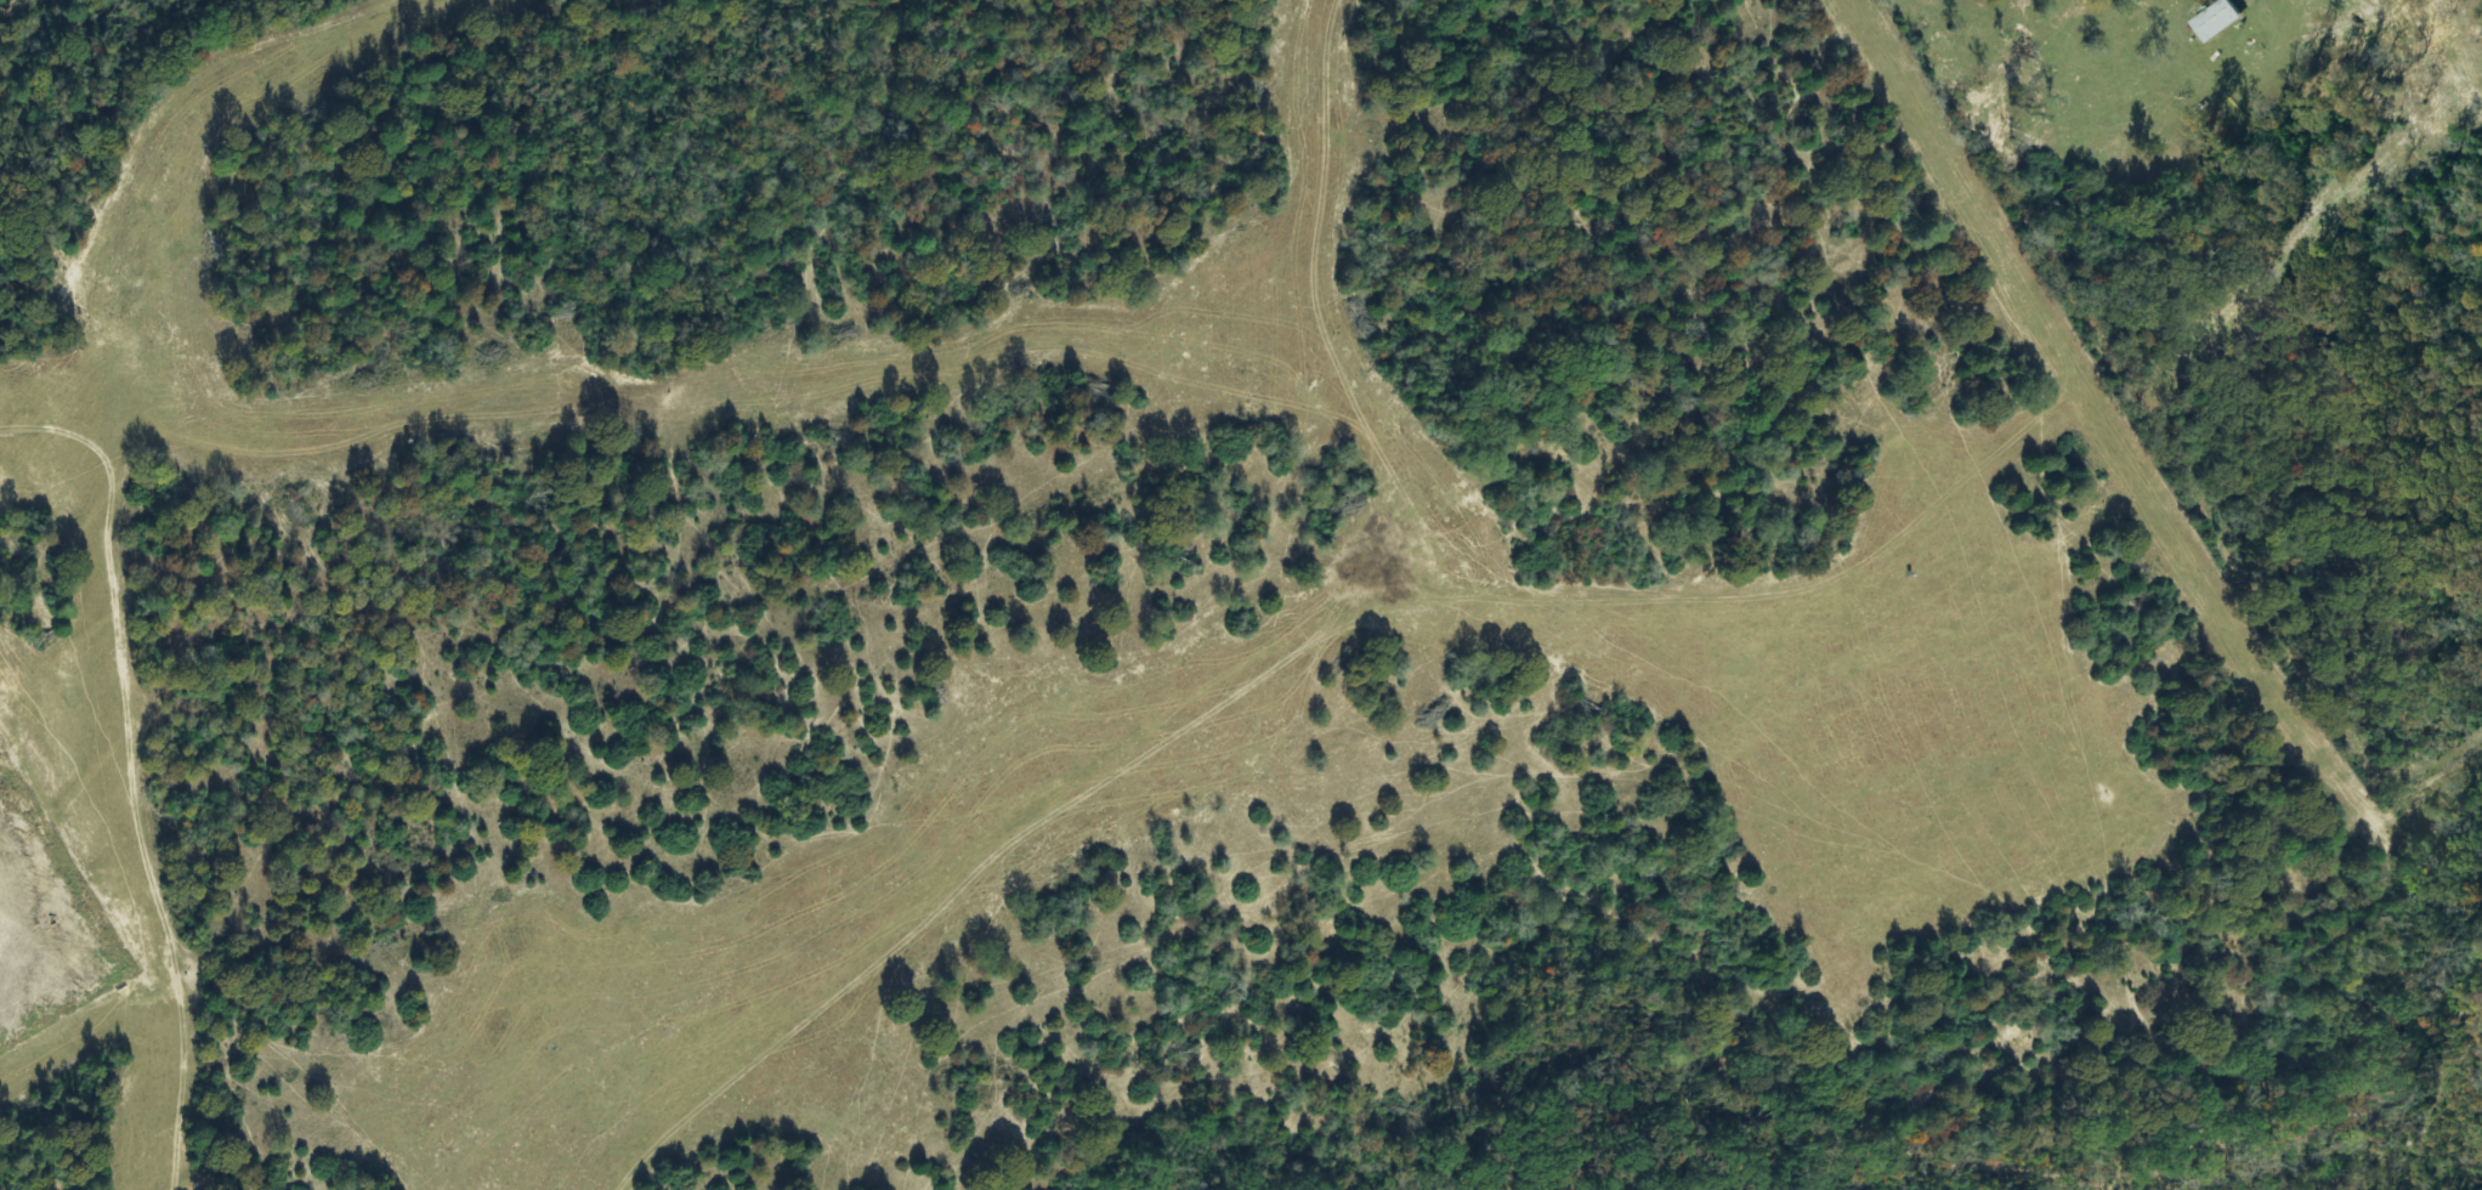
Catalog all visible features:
building: (2221, 21)
road: (69, 1025)

